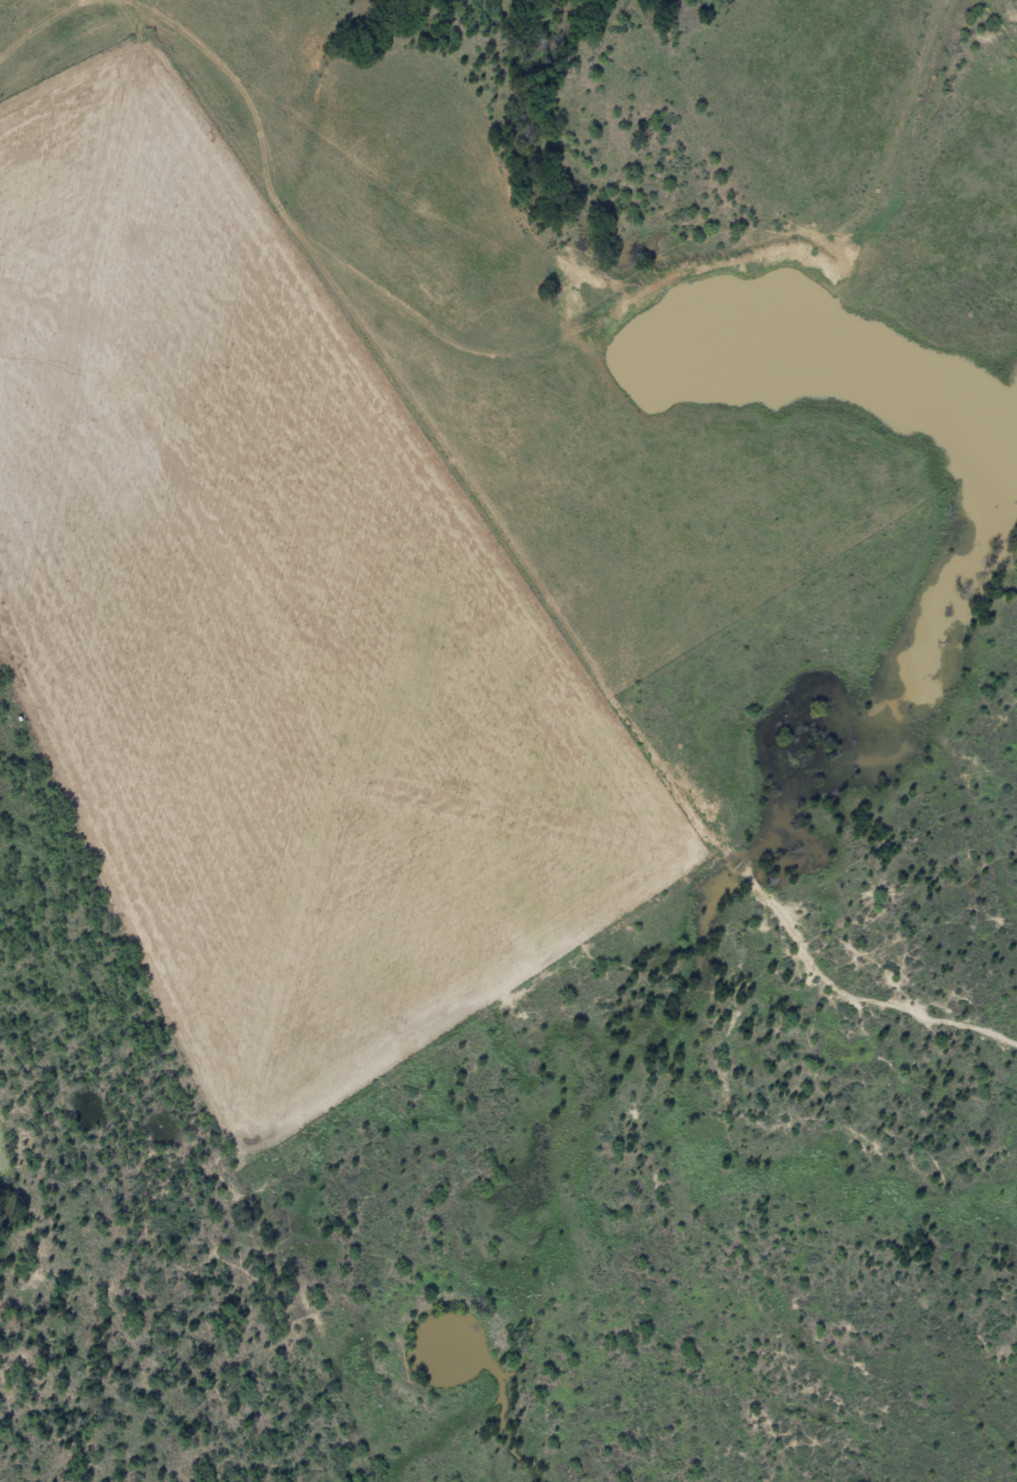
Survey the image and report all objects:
road: (470, 350)
road: (691, 1319)

